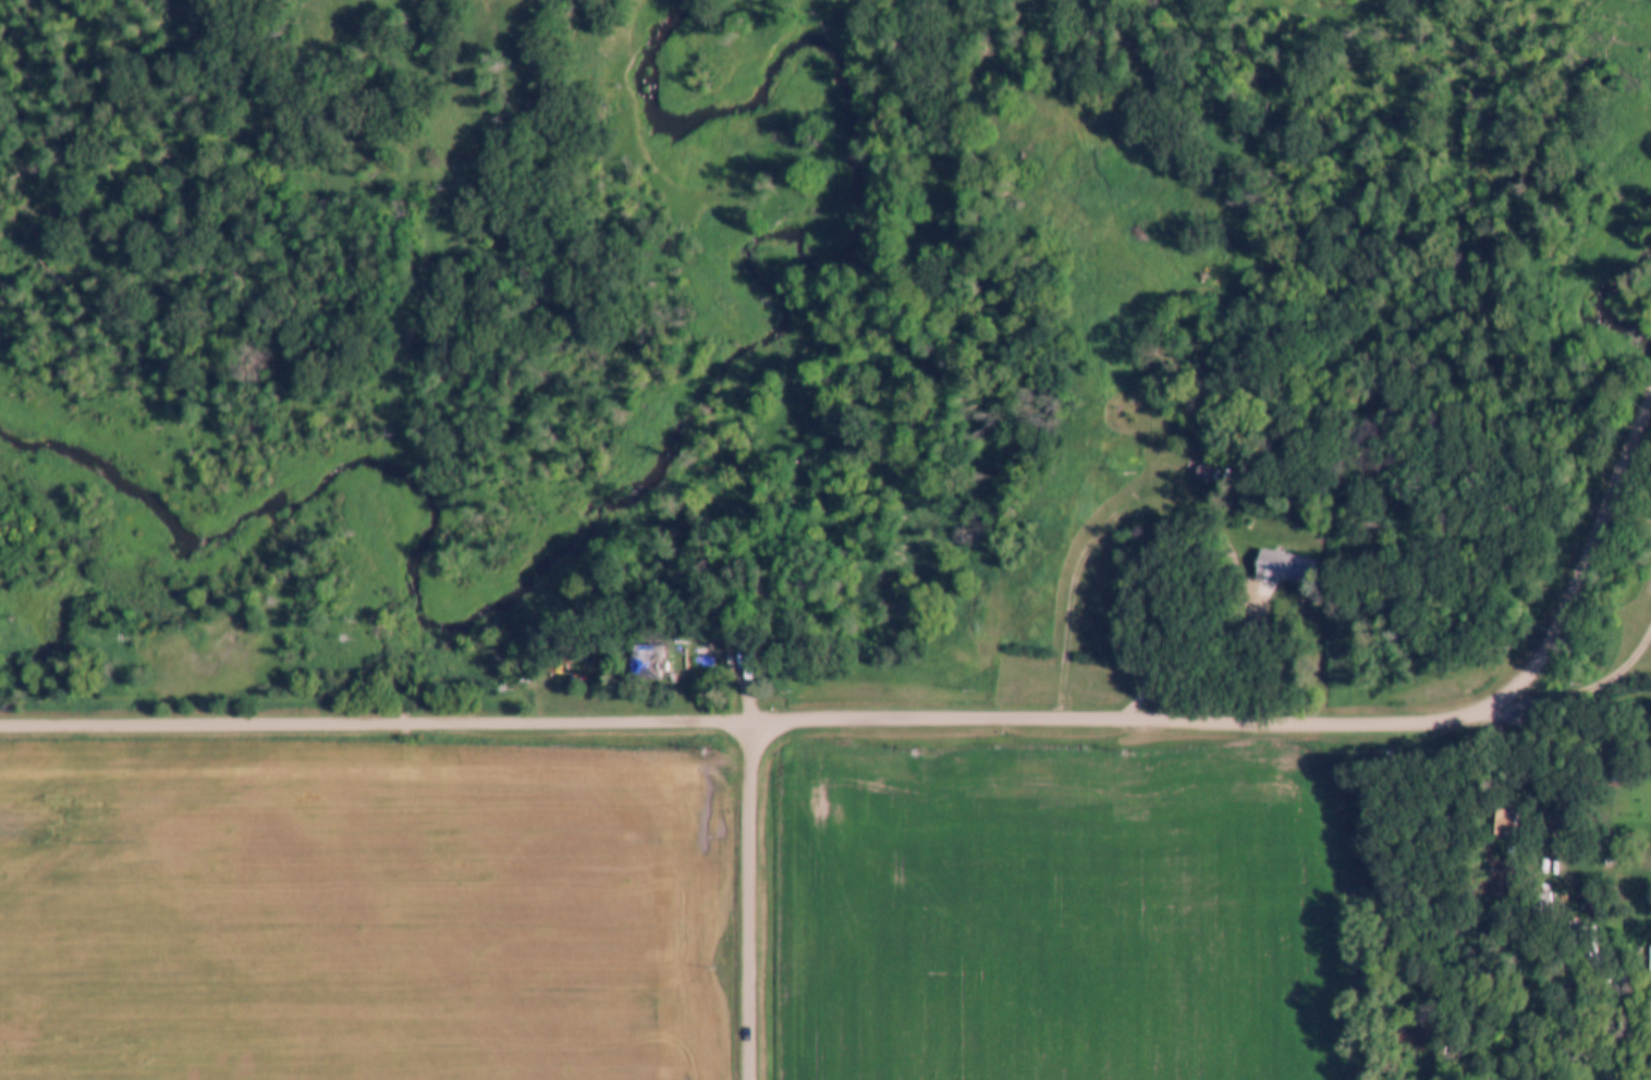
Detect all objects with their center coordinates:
building: (1203, 472)
road: (1129, 486)
building: (1282, 567)
road: (1195, 651)
building: (648, 661)
road: (919, 721)
building: (1495, 822)
road: (751, 901)
building: (1532, 904)

